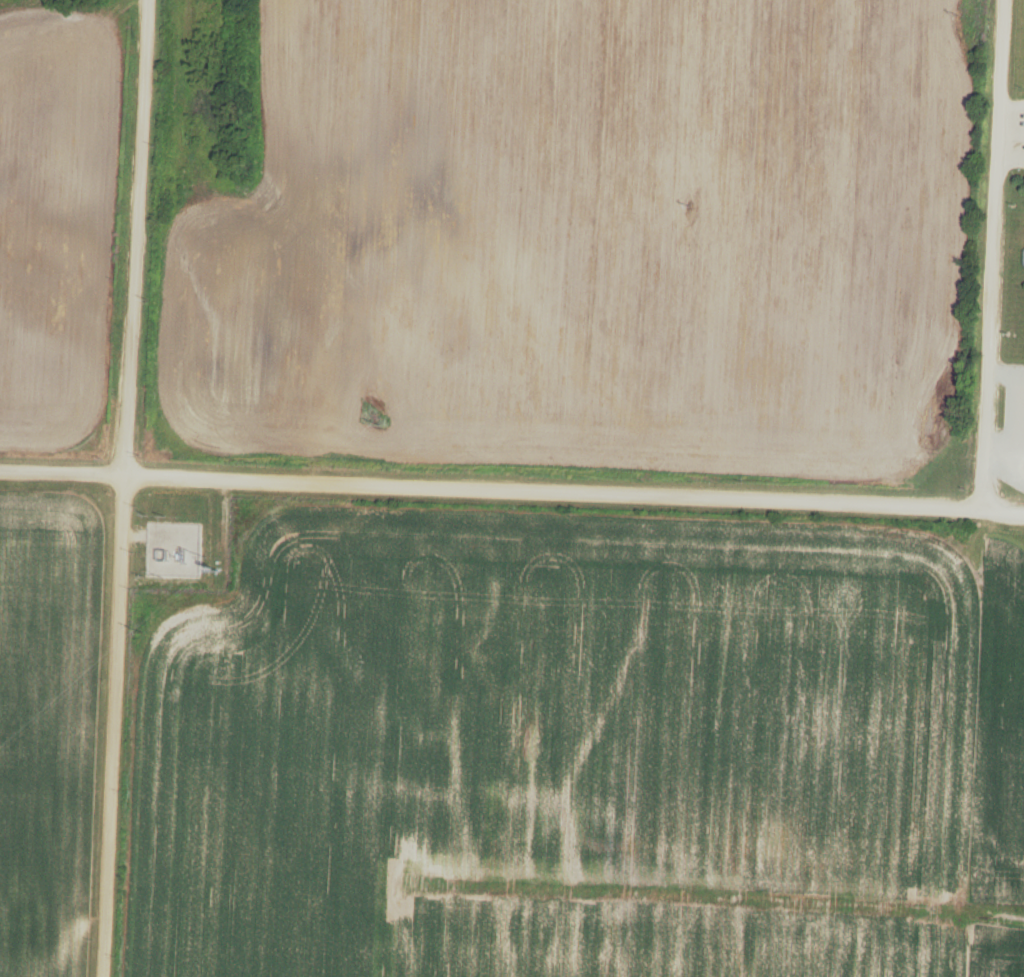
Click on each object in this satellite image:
road: (138, 238)
road: (997, 256)
road: (512, 491)
road: (115, 727)

